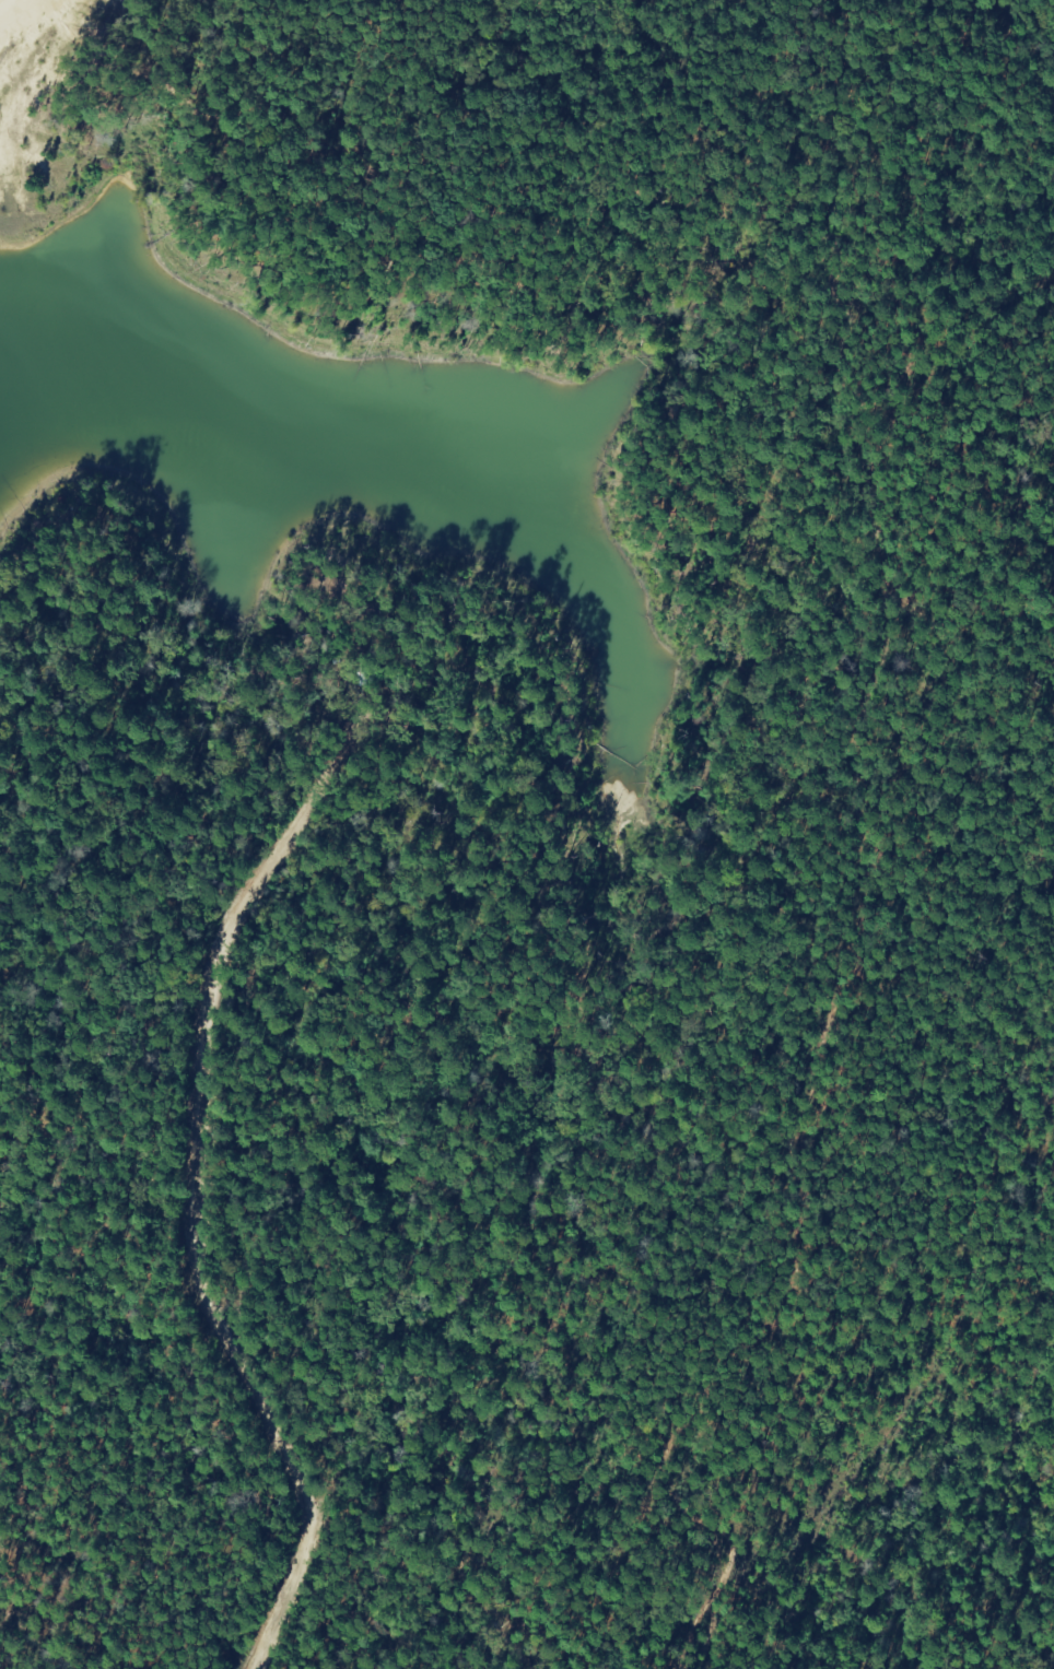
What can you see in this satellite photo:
road: (192, 1191)

